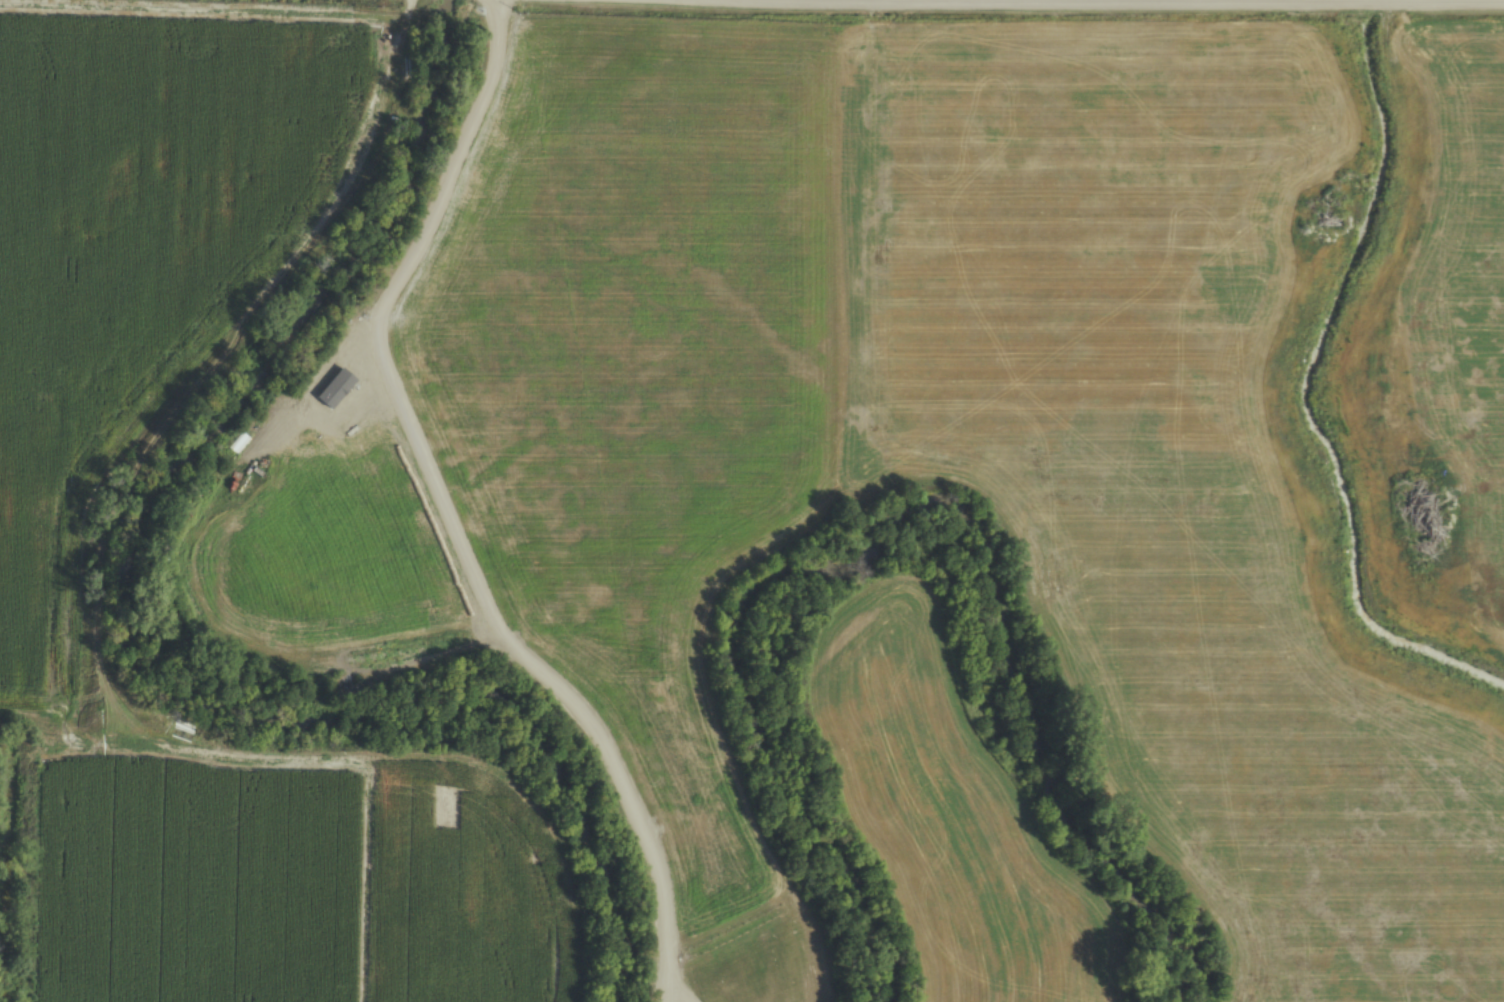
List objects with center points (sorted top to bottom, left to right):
crop: (147, 233)
crop: (195, 879)

